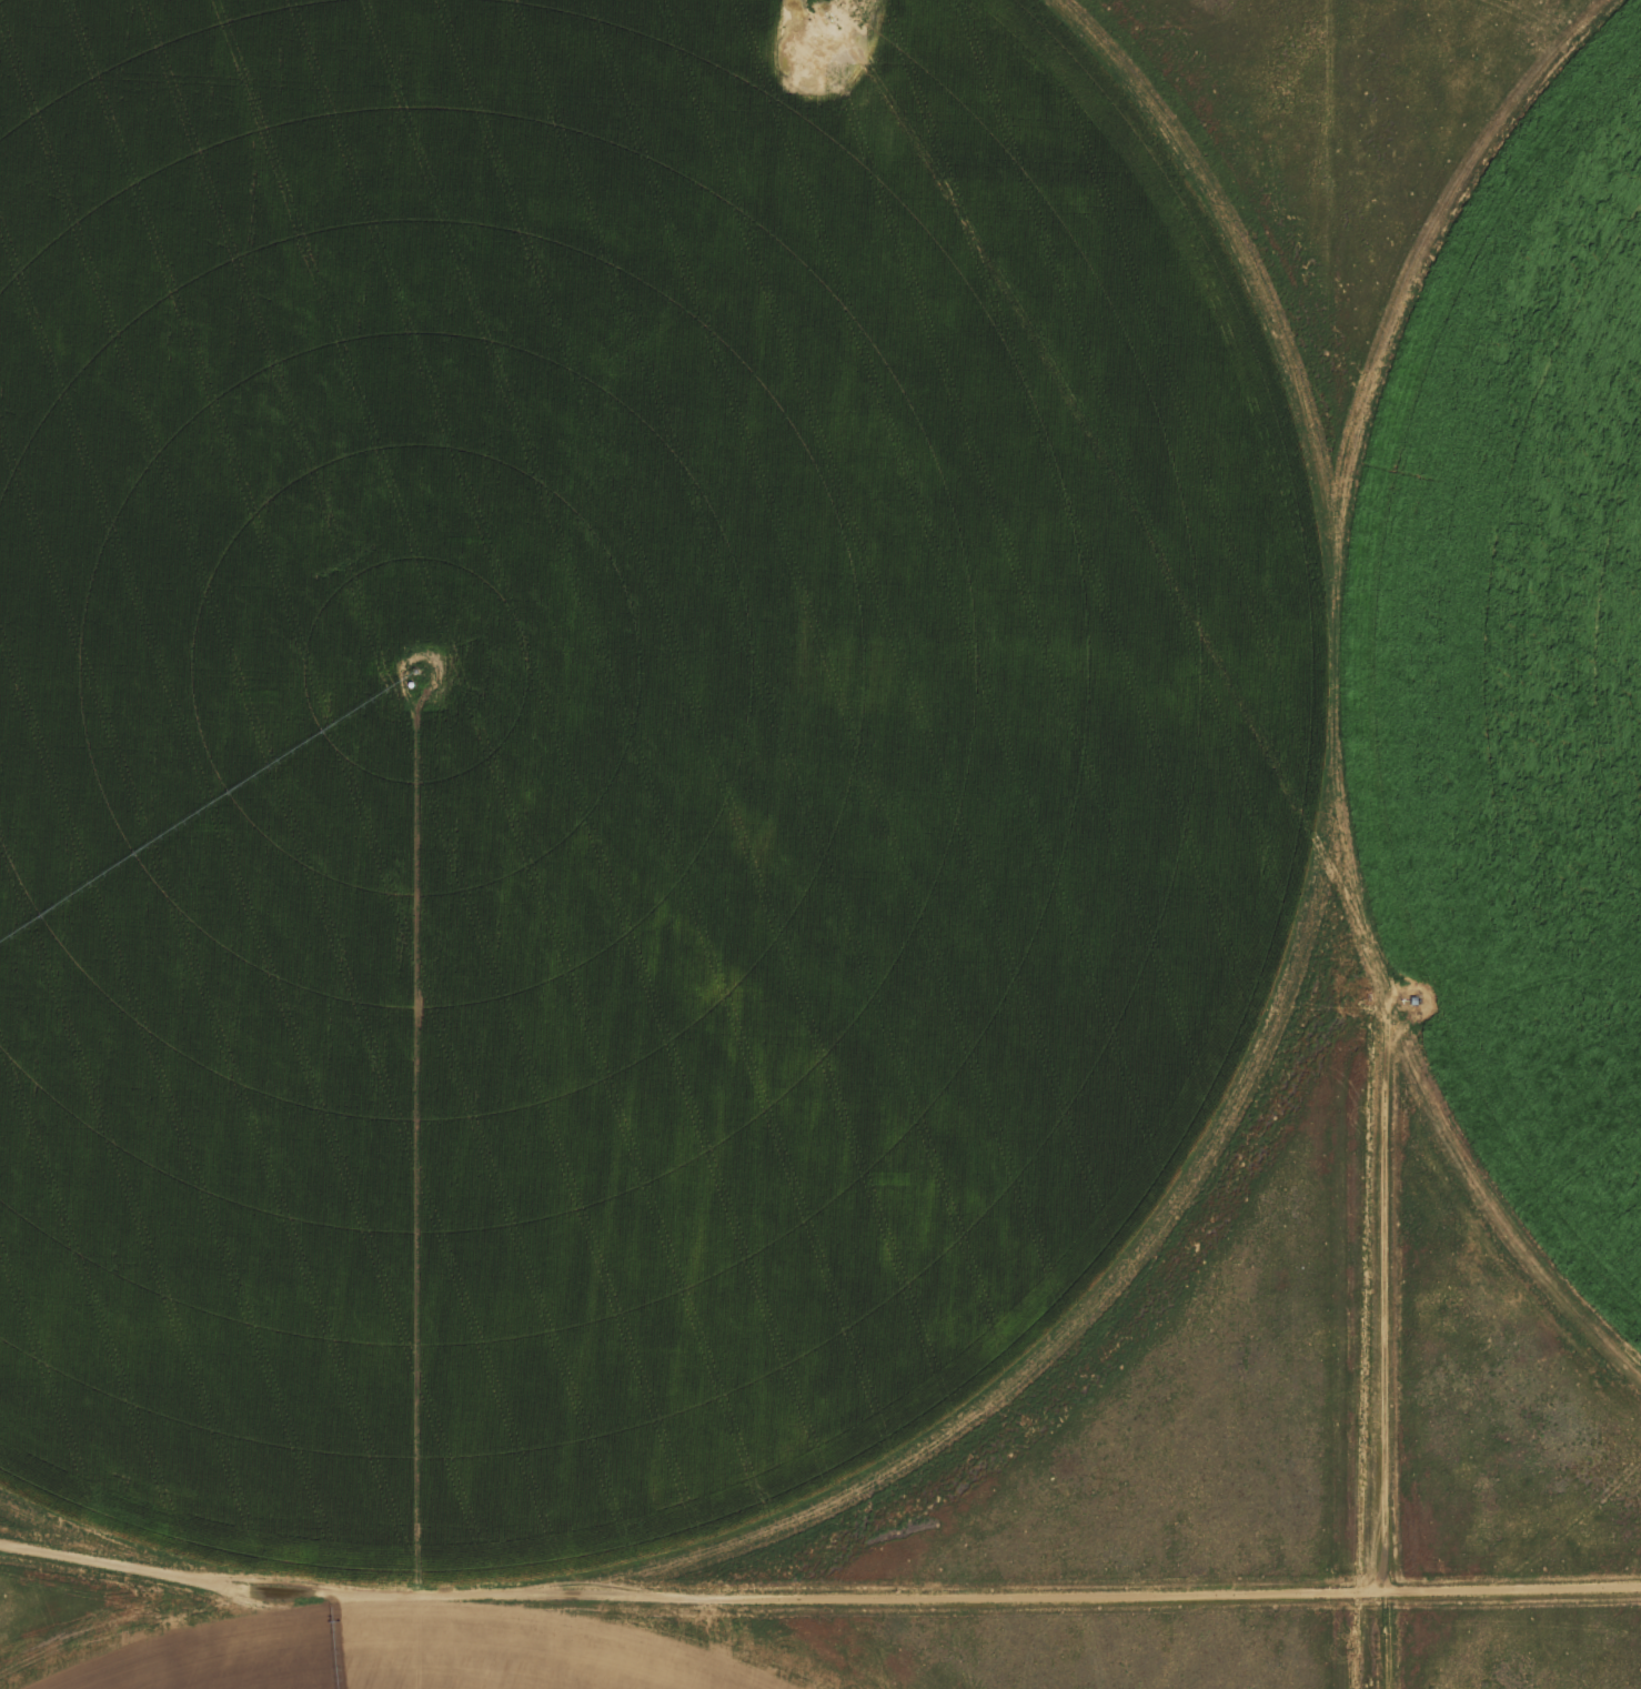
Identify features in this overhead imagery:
road: (572, 844)

